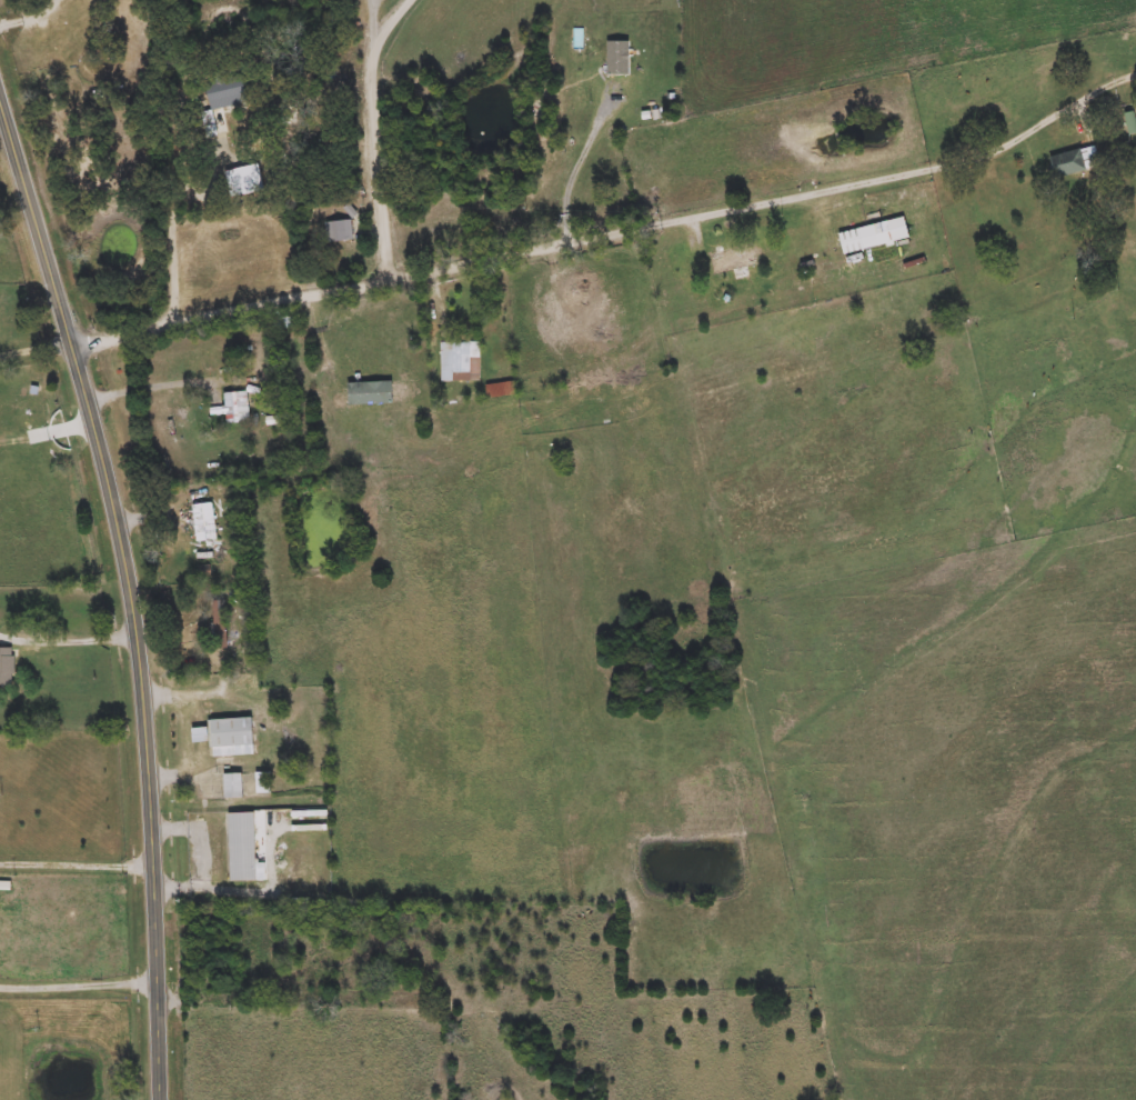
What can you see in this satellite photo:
road: (30, 18)
building: (225, 91)
building: (1130, 122)
road: (382, 132)
building: (1074, 161)
building: (243, 180)
road: (180, 218)
building: (339, 231)
road: (612, 233)
building: (874, 236)
building: (733, 260)
building: (577, 300)
building: (286, 318)
road: (36, 352)
building: (462, 362)
road: (158, 382)
building: (237, 408)
building: (204, 522)
road: (131, 594)
building: (220, 624)
road: (69, 640)
building: (7, 667)
road: (181, 694)
building: (228, 737)
building: (263, 782)
building: (233, 784)
building: (218, 830)
building: (242, 847)
road: (77, 864)
road: (202, 892)
road: (78, 984)
road: (195, 997)

